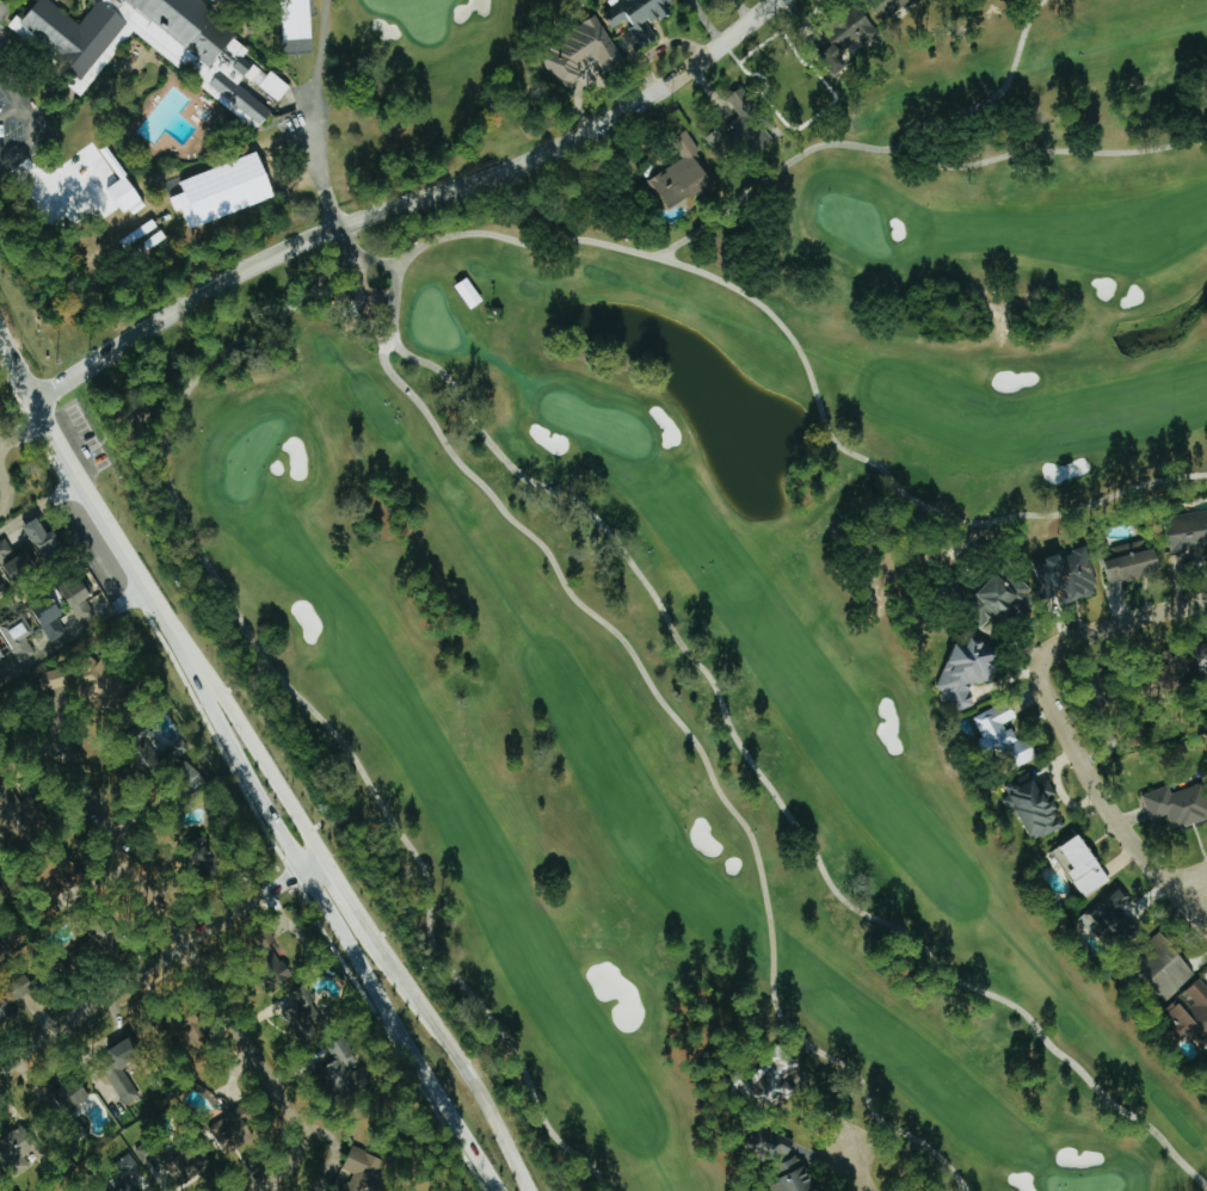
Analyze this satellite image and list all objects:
building: (888, 7)
park: (418, 16)
building: (635, 16)
building: (846, 39)
building: (153, 45)
building: (575, 53)
road: (1, 74)
road: (20, 99)
road: (313, 107)
road: (11, 109)
building: (292, 124)
building: (738, 125)
road: (20, 147)
building: (682, 177)
road: (414, 202)
road: (18, 352)
road: (17, 416)
road: (7, 487)
road: (42, 506)
park: (646, 524)
building: (1182, 532)
building: (43, 539)
building: (16, 562)
building: (1121, 564)
road: (57, 569)
building: (1057, 575)
building: (1, 590)
building: (989, 597)
building: (79, 599)
building: (49, 618)
road: (72, 630)
building: (18, 641)
building: (1, 654)
building: (1195, 659)
building: (1162, 671)
building: (956, 672)
building: (53, 679)
building: (104, 685)
road: (1069, 721)
building: (986, 726)
building: (165, 736)
building: (1011, 754)
building: (190, 777)
road: (275, 795)
building: (1027, 807)
building: (1168, 807)
building: (23, 815)
building: (204, 851)
building: (1072, 868)
building: (70, 882)
road: (1190, 906)
building: (1100, 914)
road: (173, 928)
building: (98, 945)
road: (154, 963)
building: (1151, 970)
building: (276, 976)
building: (7, 1011)
building: (304, 1014)
building: (1184, 1014)
building: (344, 1070)
building: (771, 1082)
building: (72, 1097)
building: (233, 1128)
building: (21, 1152)
building: (144, 1152)
road: (290, 1162)
road: (852, 1164)
building: (190, 1165)
building: (123, 1173)
building: (359, 1173)
building: (796, 1183)

